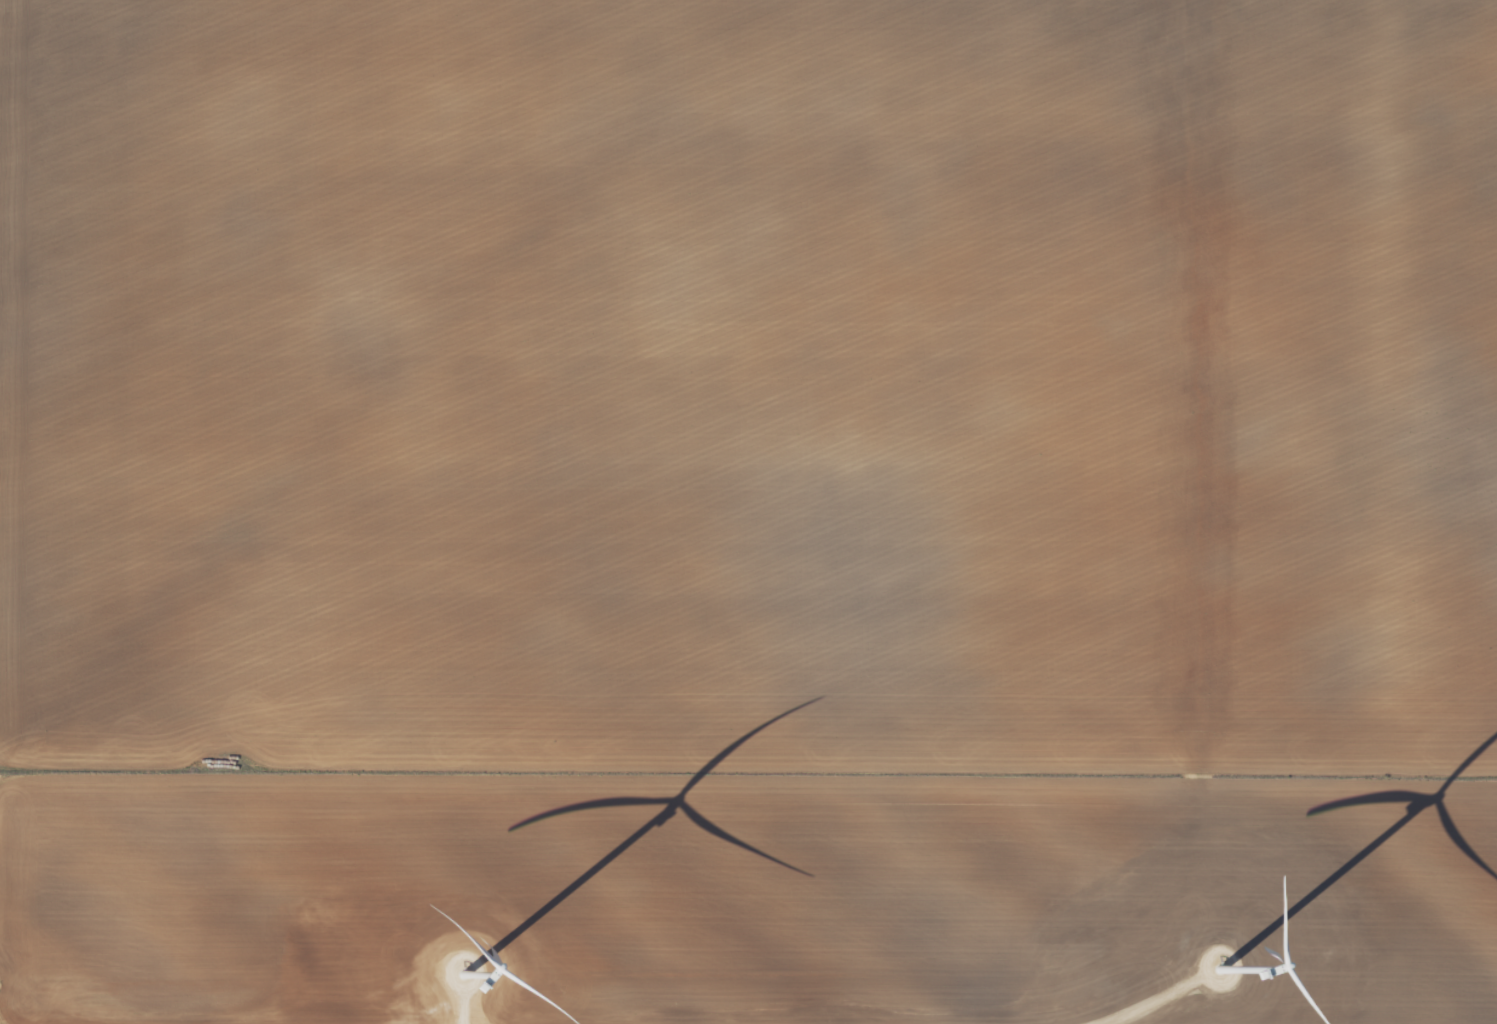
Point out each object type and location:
wind turbine: (1221, 967)
wind turbine: (474, 971)

